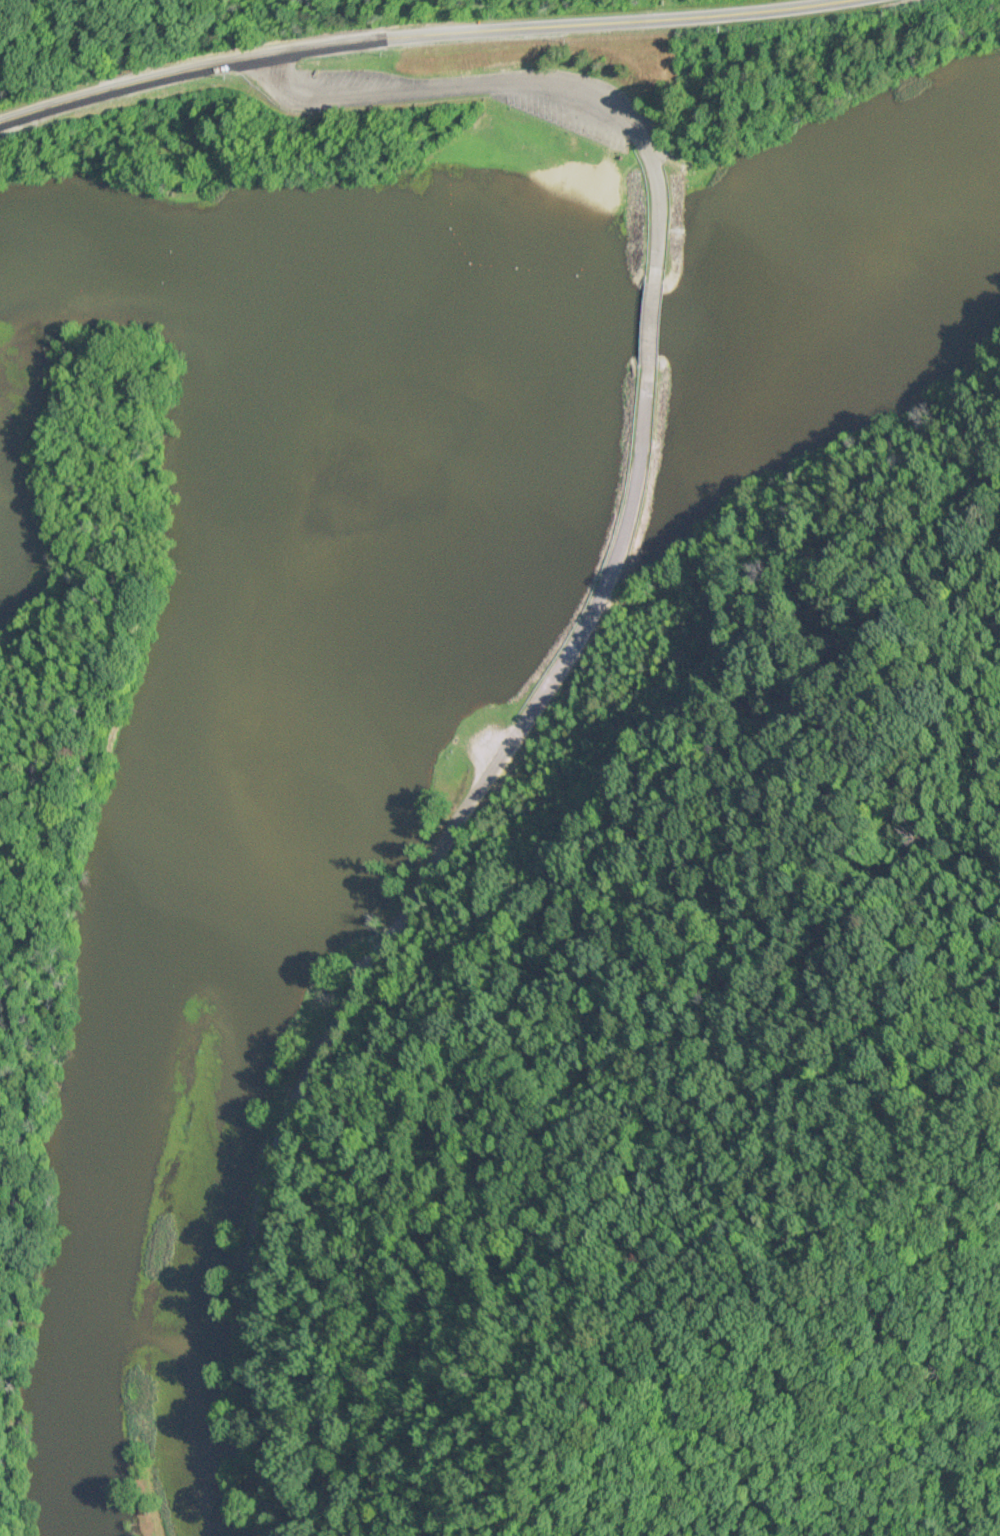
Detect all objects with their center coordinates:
road: (418, 34)
road: (522, 81)
road: (651, 324)
river: (252, 749)
road: (385, 940)

